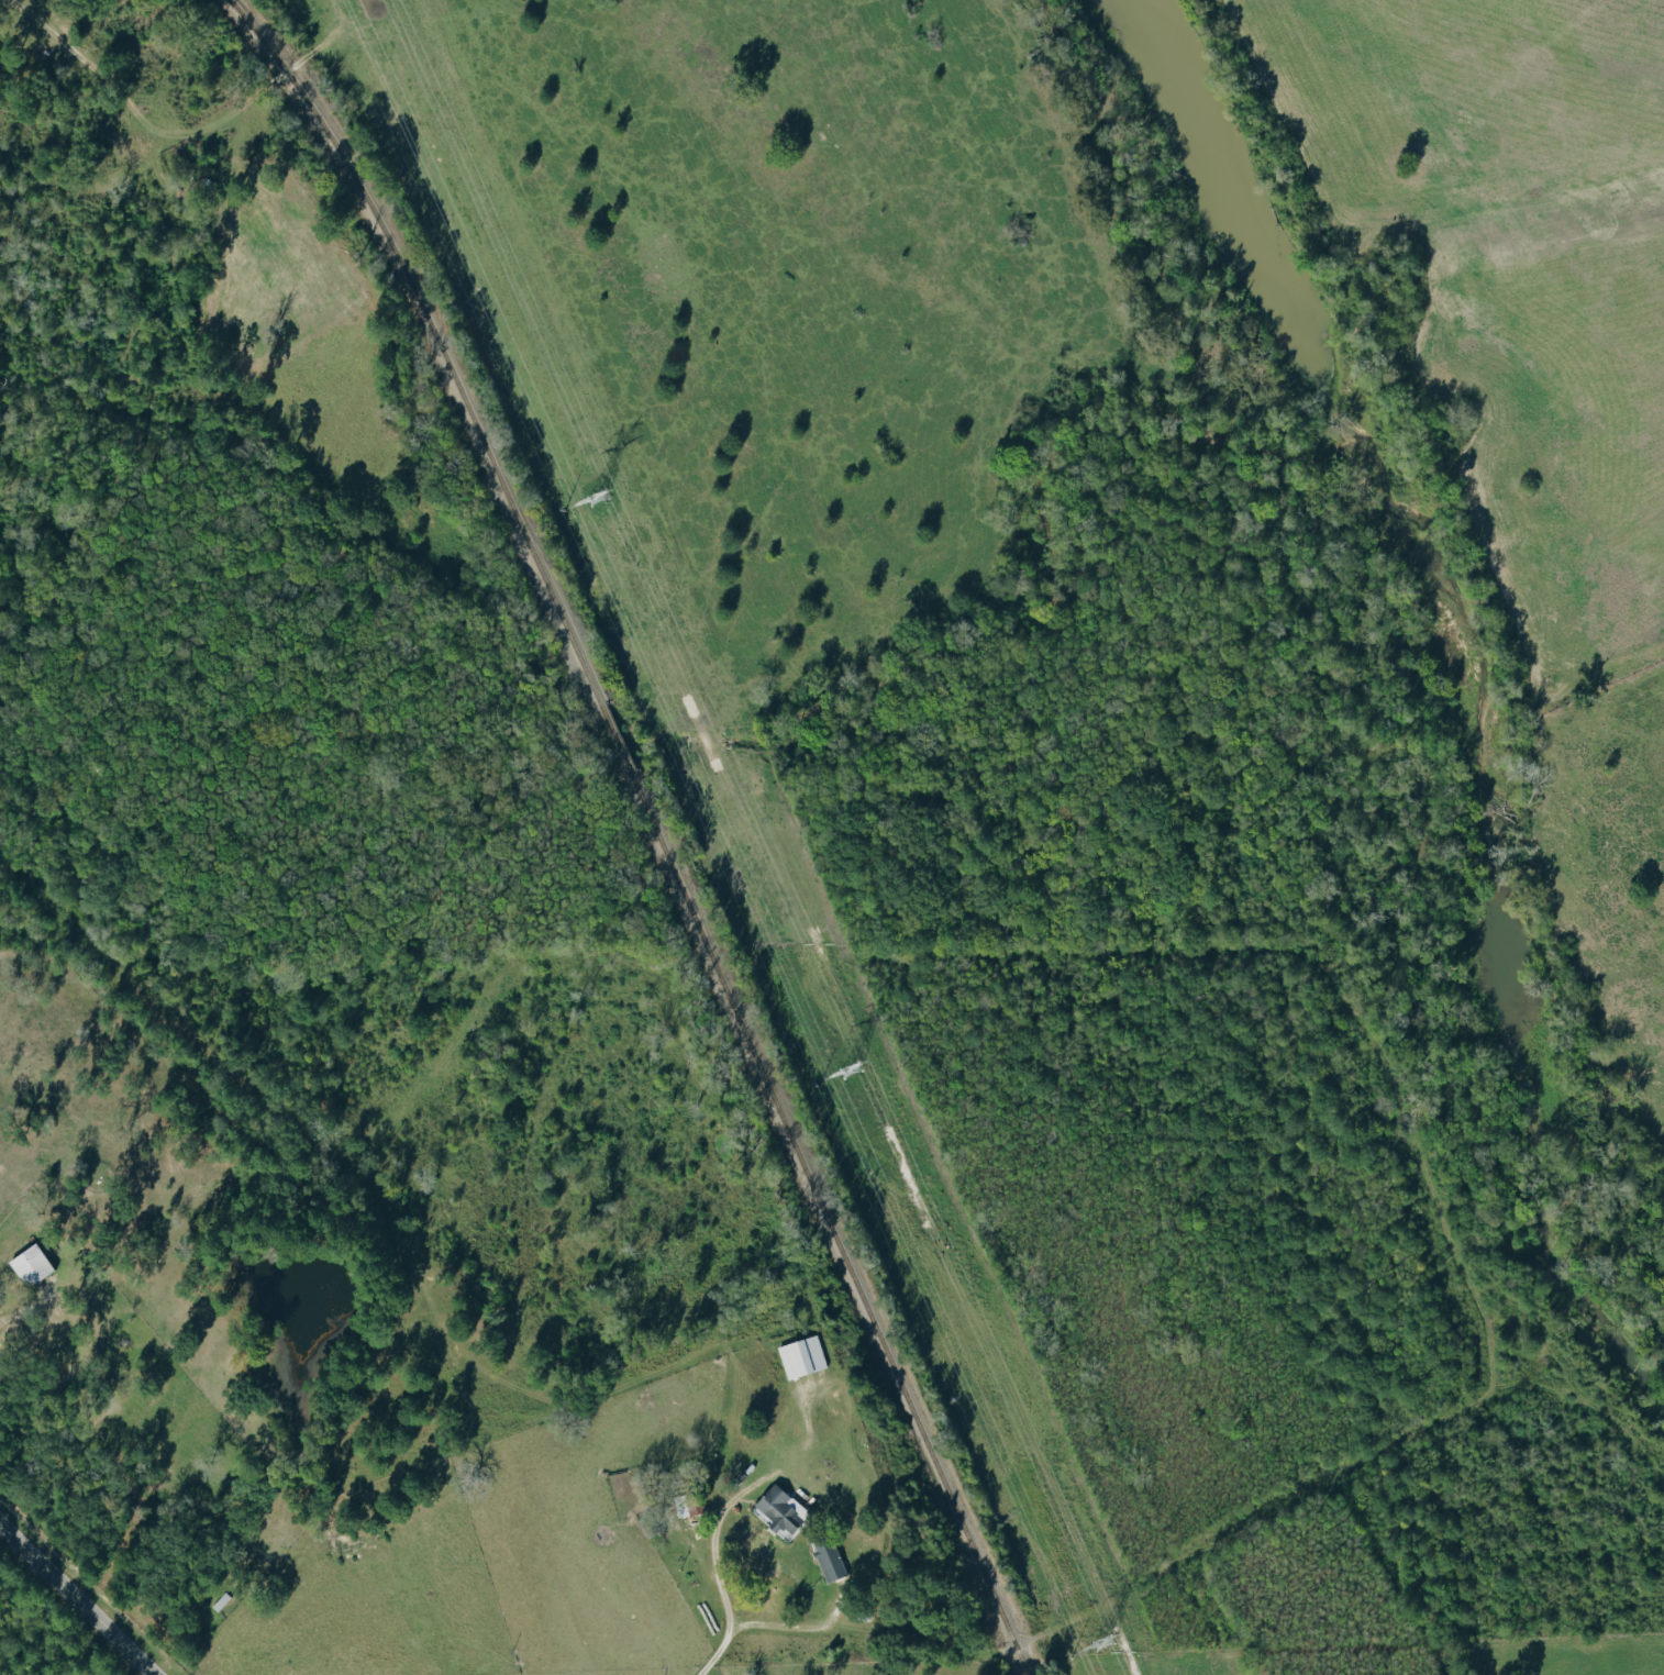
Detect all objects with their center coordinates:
road: (282, 73)
road: (115, 88)
railway: (435, 339)
power tower: (595, 498)
river: (1462, 678)
railway: (612, 739)
power tower: (848, 1073)
railway: (829, 1222)
building: (33, 1266)
road: (21, 1305)
building: (803, 1357)
road: (713, 1546)
building: (830, 1557)
road: (75, 1601)
road: (870, 1628)
road: (1039, 1634)
power tower: (1101, 1643)
road: (713, 1652)

